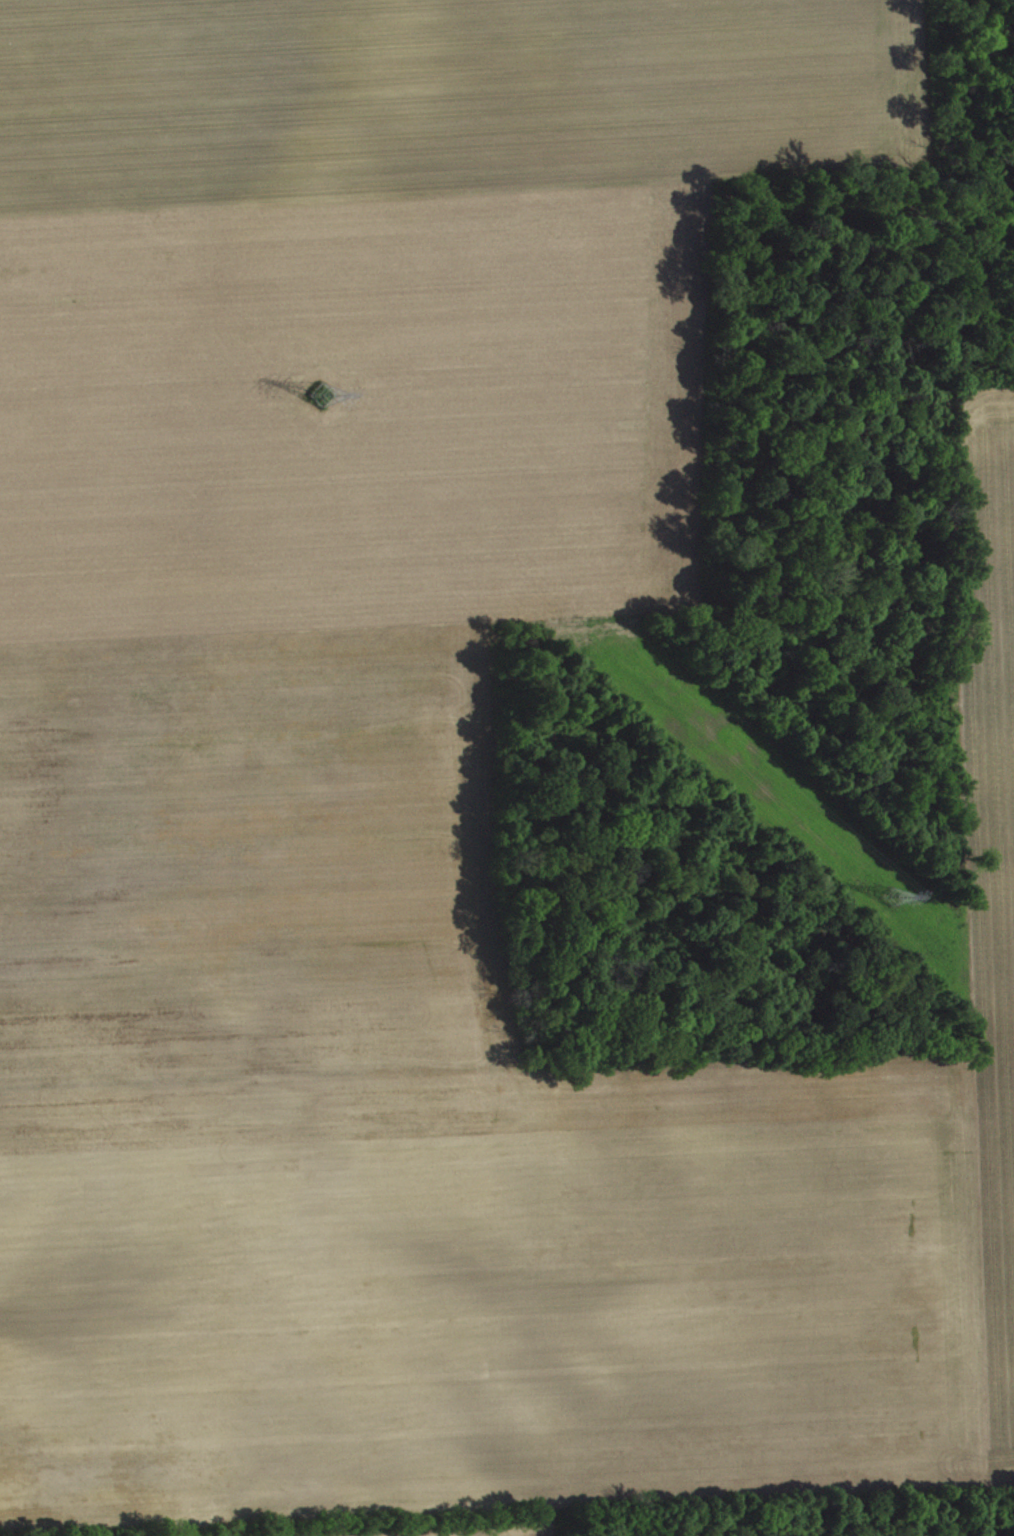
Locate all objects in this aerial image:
power tower: (319, 395)
power tower: (891, 896)

